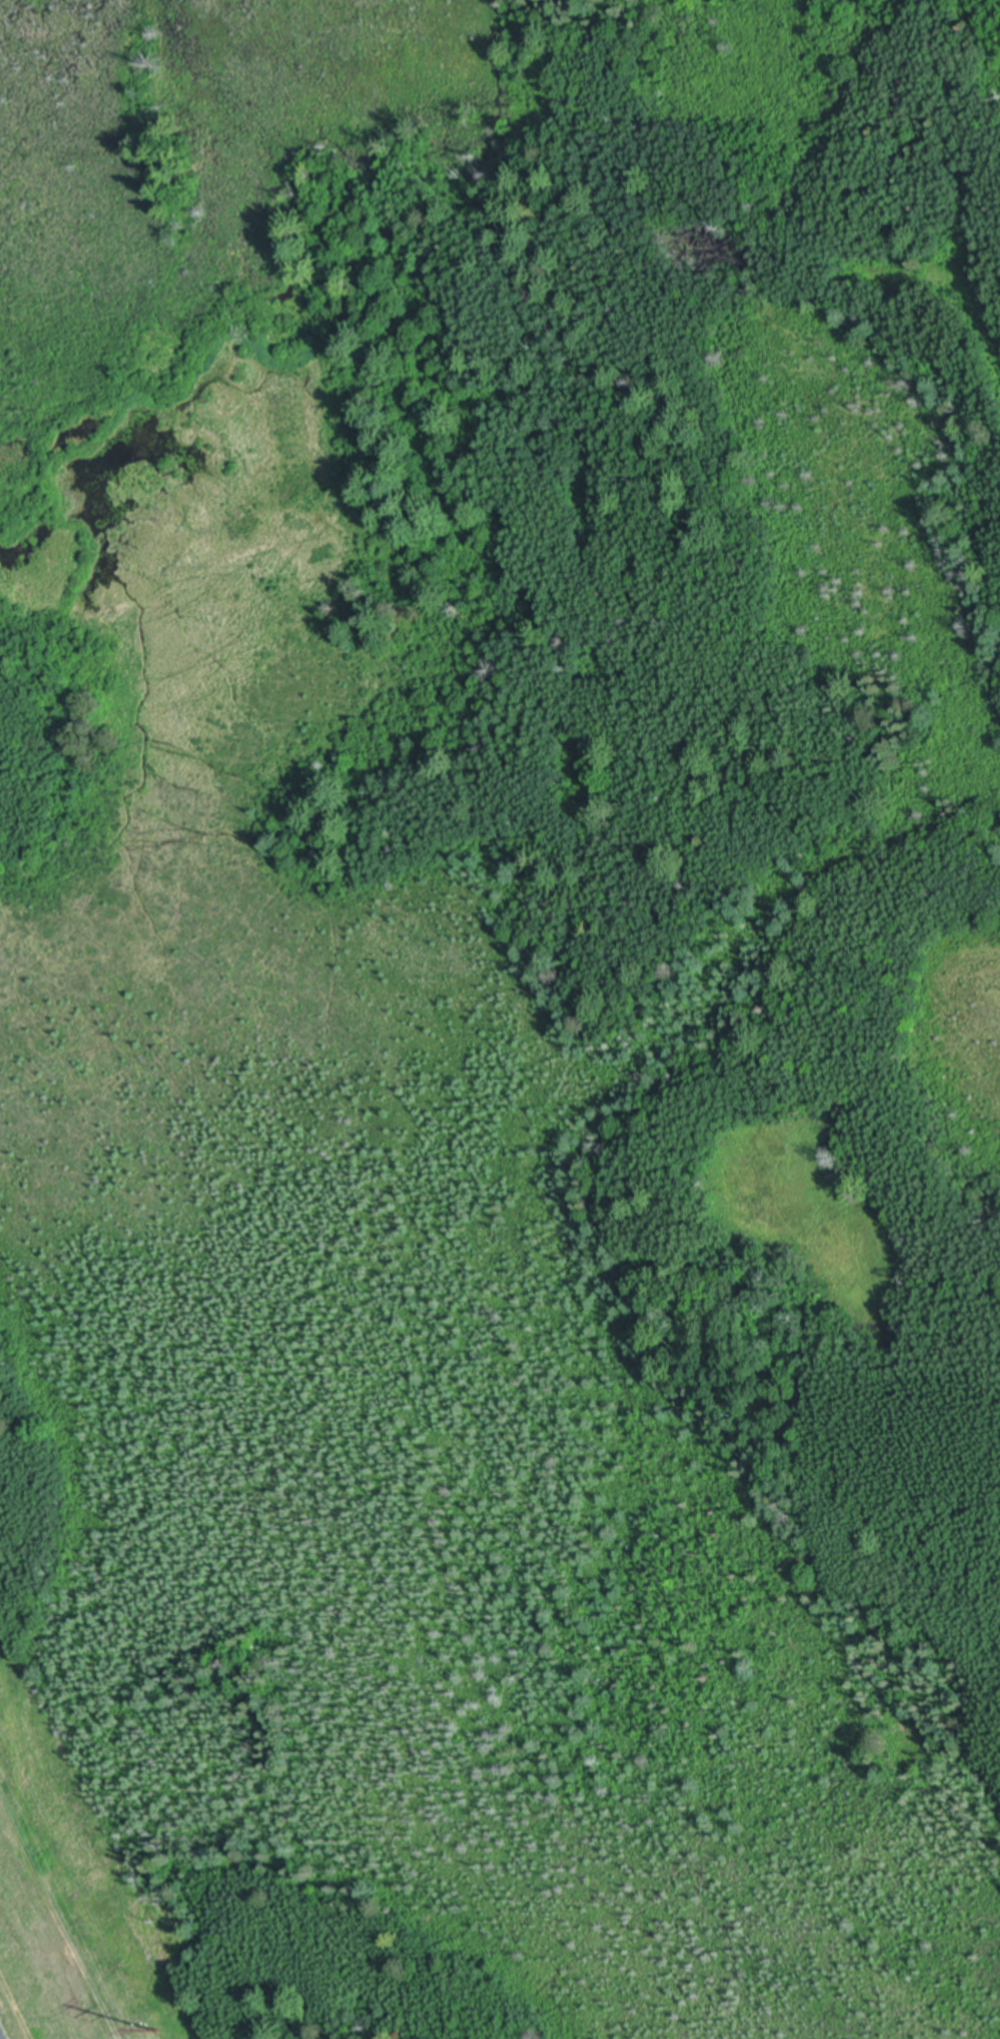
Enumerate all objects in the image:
power tower: (156, 2031)

